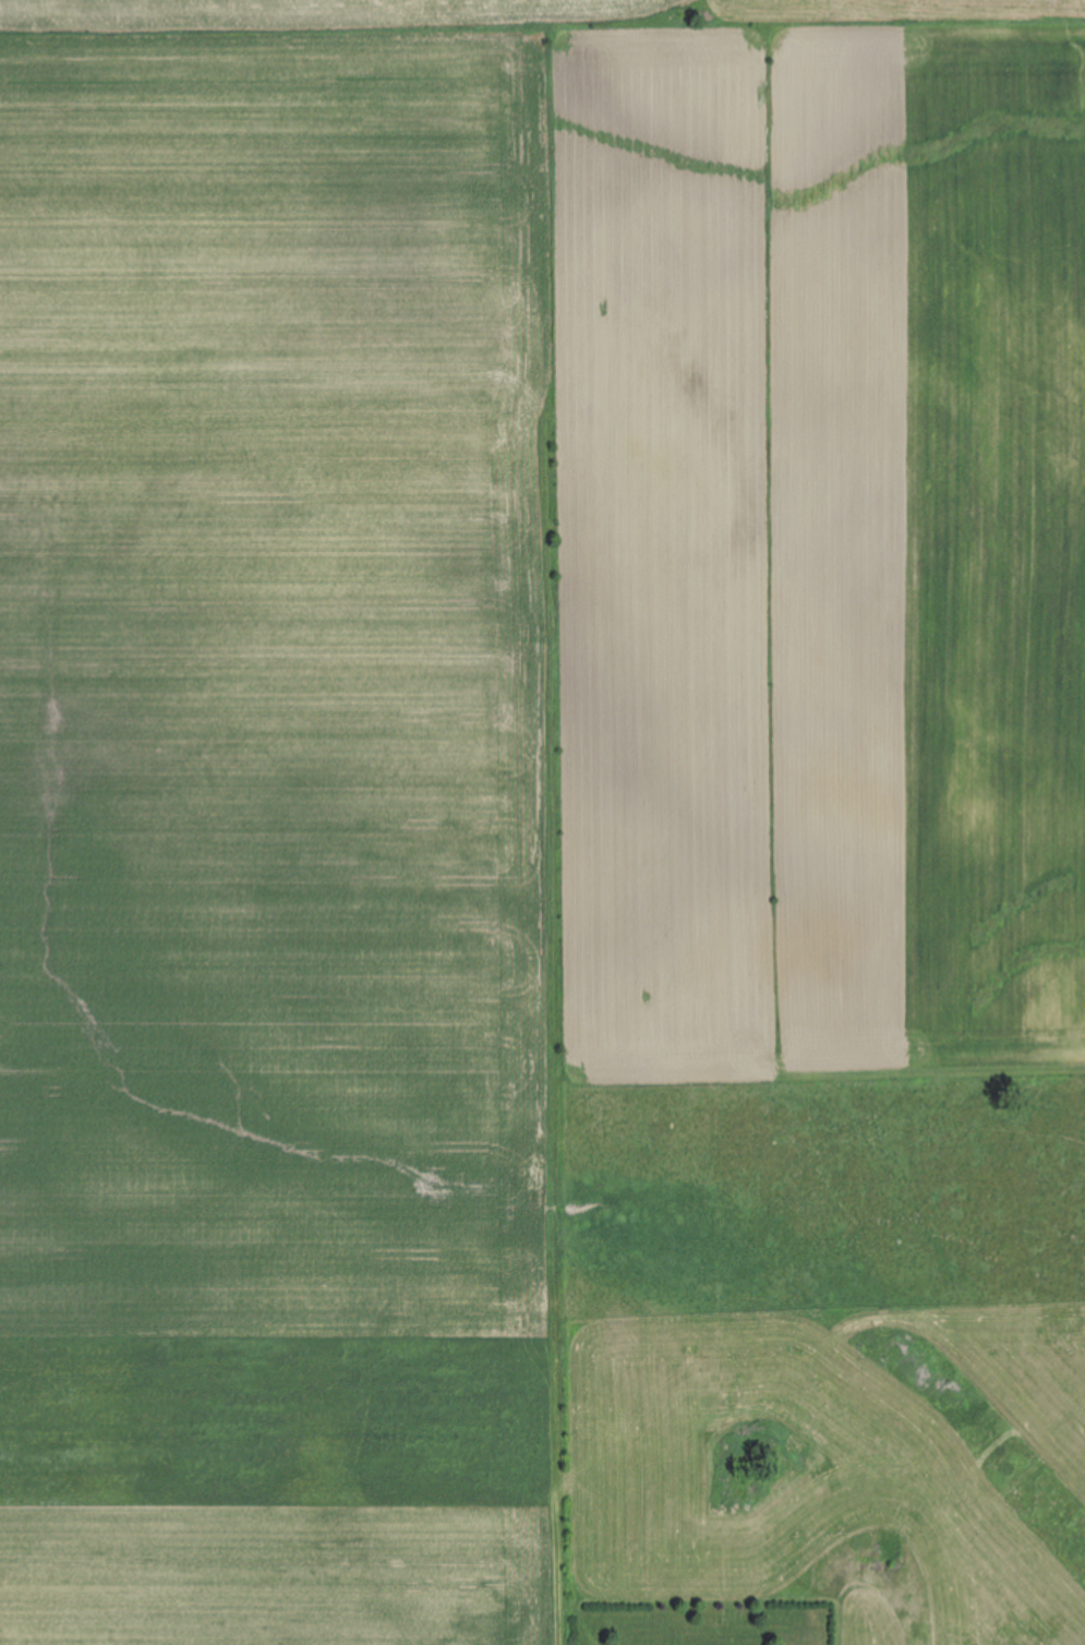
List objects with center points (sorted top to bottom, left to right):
crop: (485, 713)

